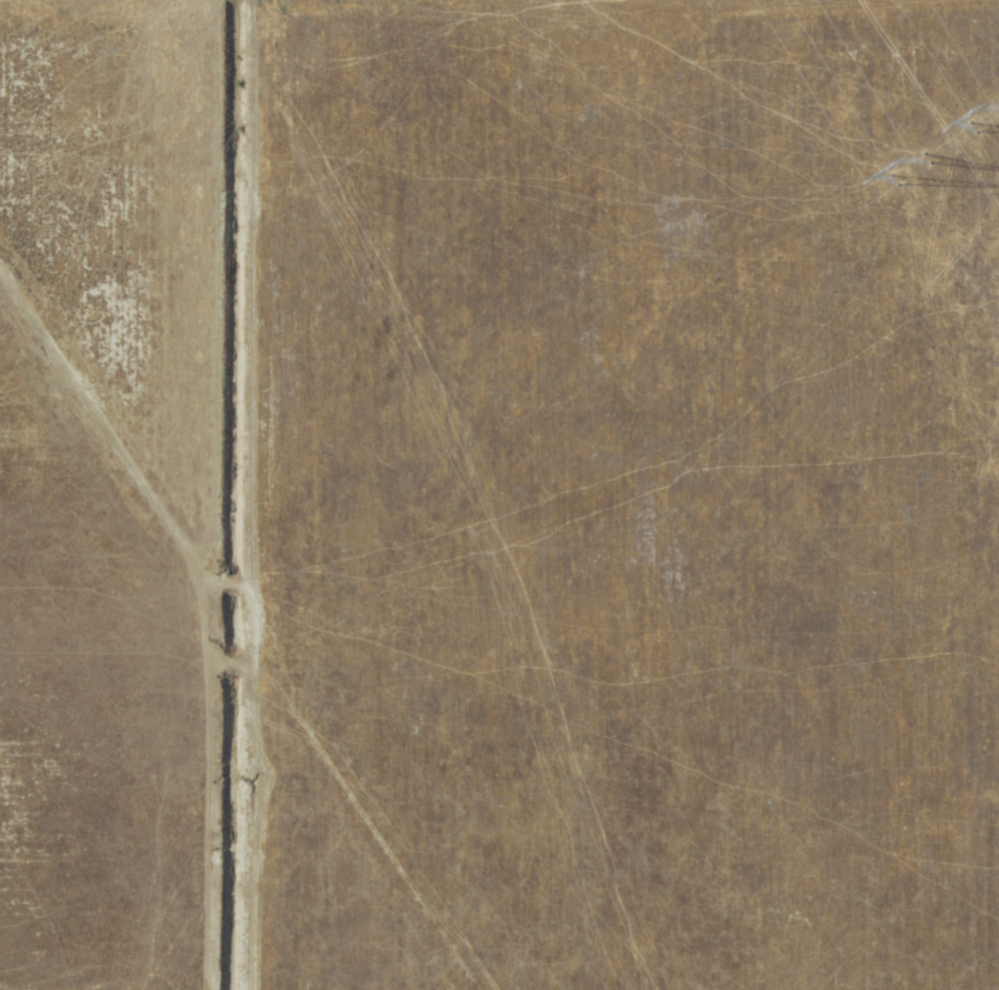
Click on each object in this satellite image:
power tower: (984, 114)
power tower: (917, 179)
road: (252, 612)

